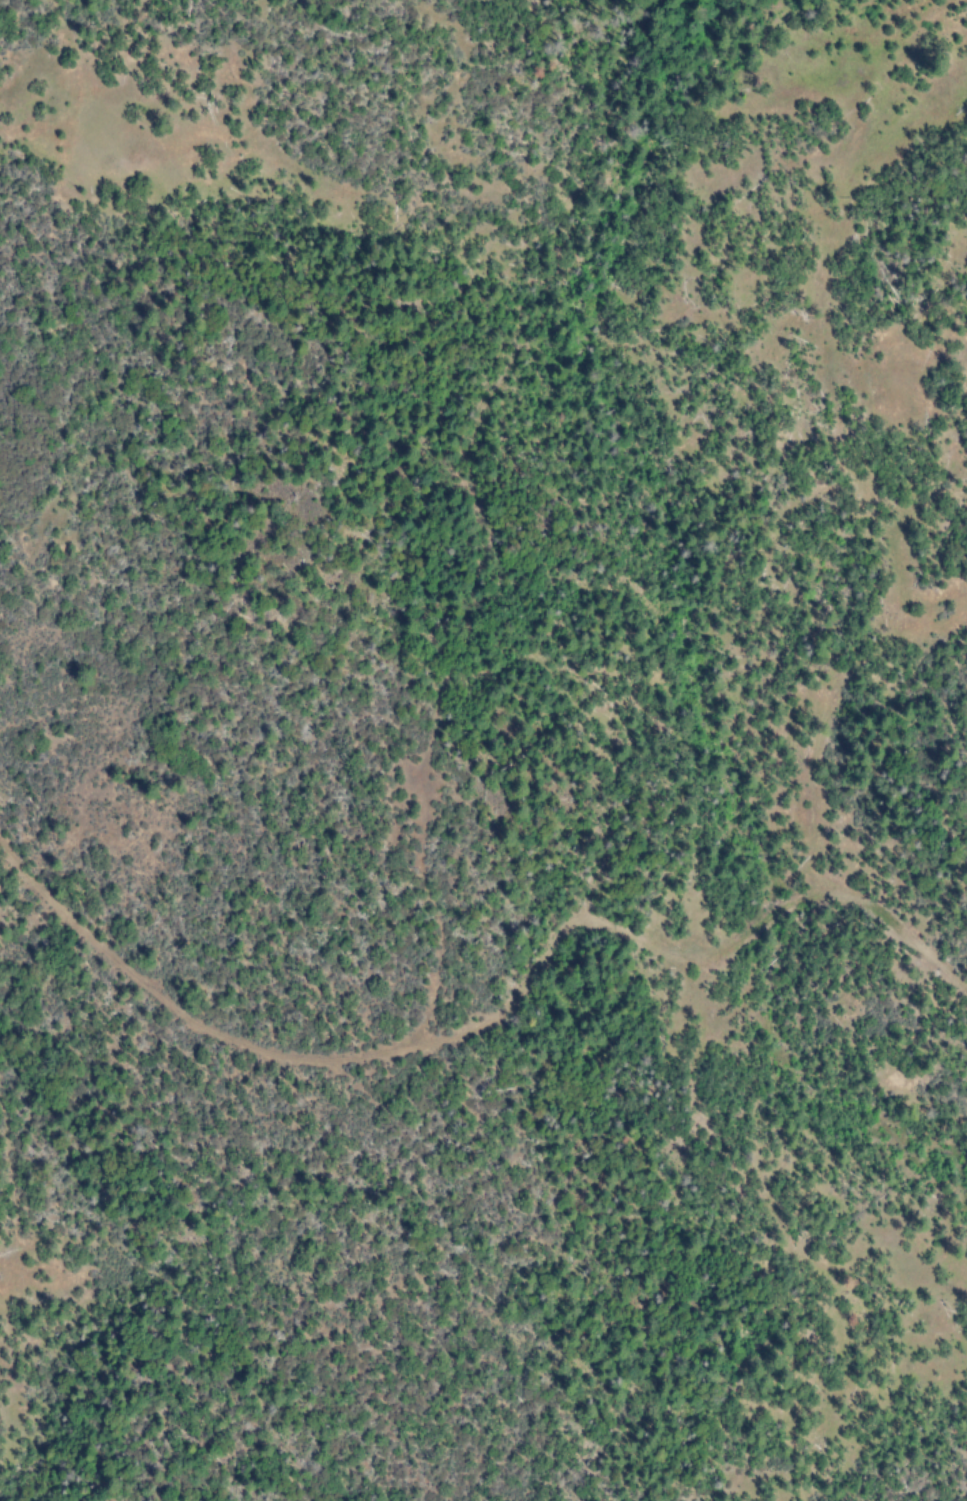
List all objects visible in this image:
road: (658, 466)
road: (616, 678)
road: (370, 1059)

